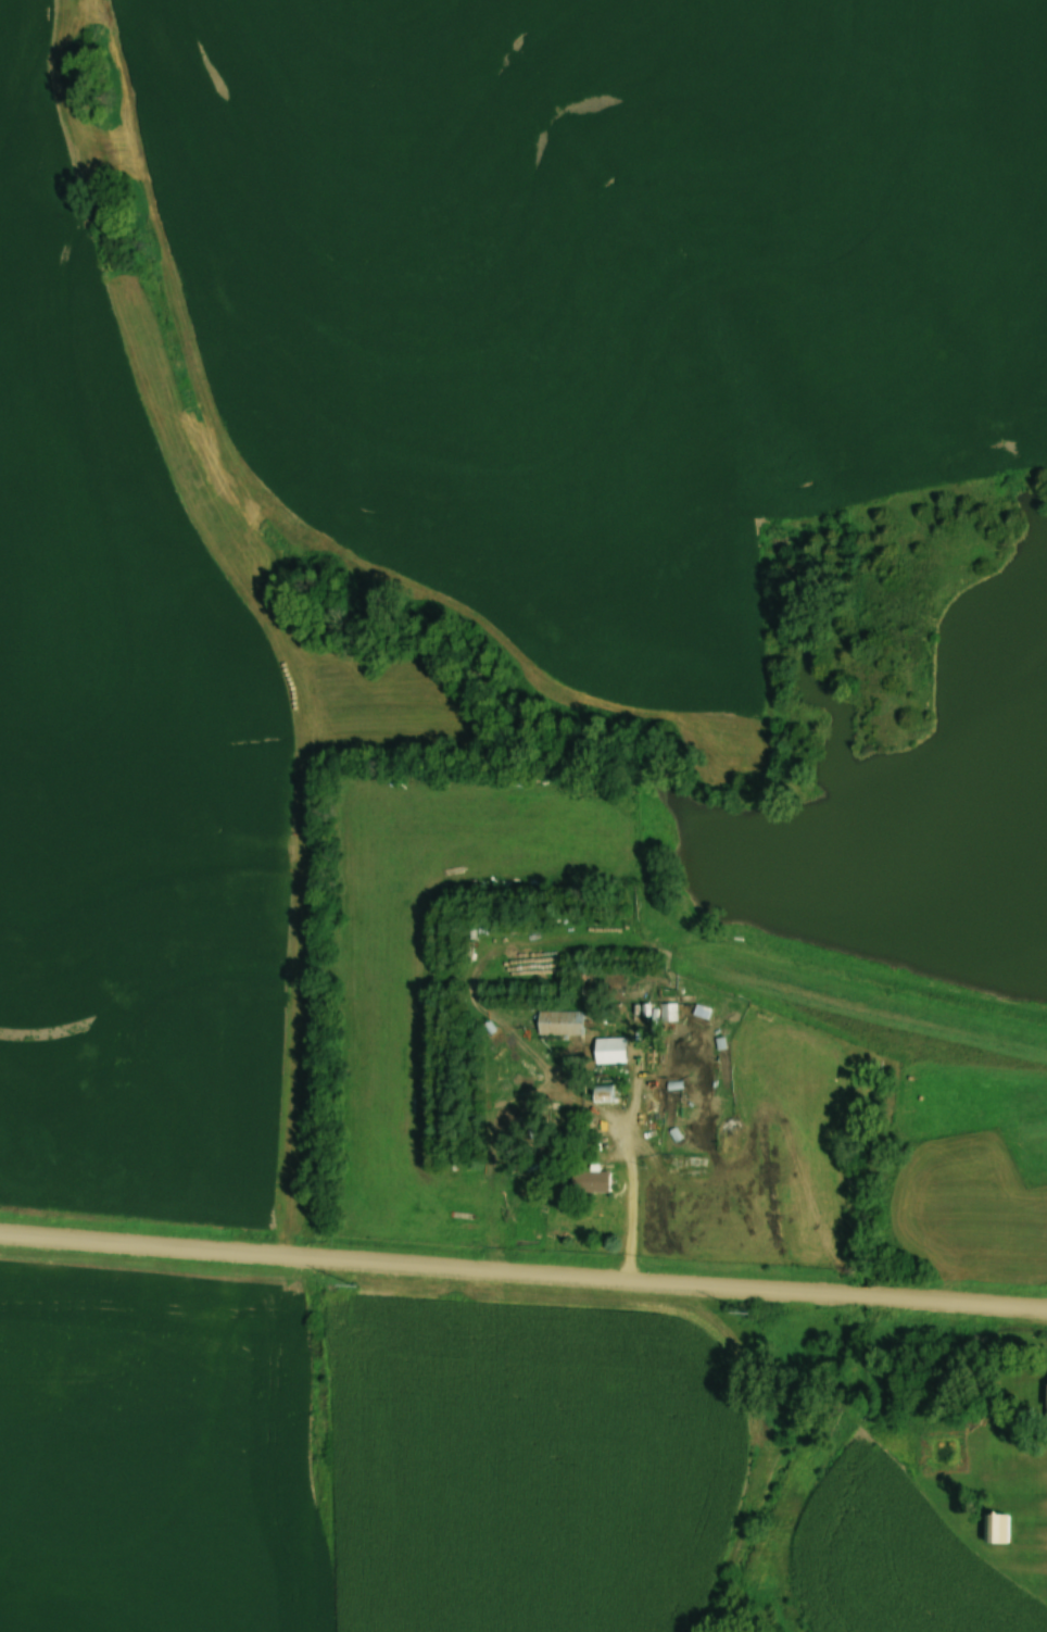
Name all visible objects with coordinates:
building: (667, 1010)
building: (557, 1021)
building: (608, 1050)
building: (600, 1093)
building: (588, 1182)
road: (635, 1194)
road: (522, 1272)
building: (1046, 1399)

